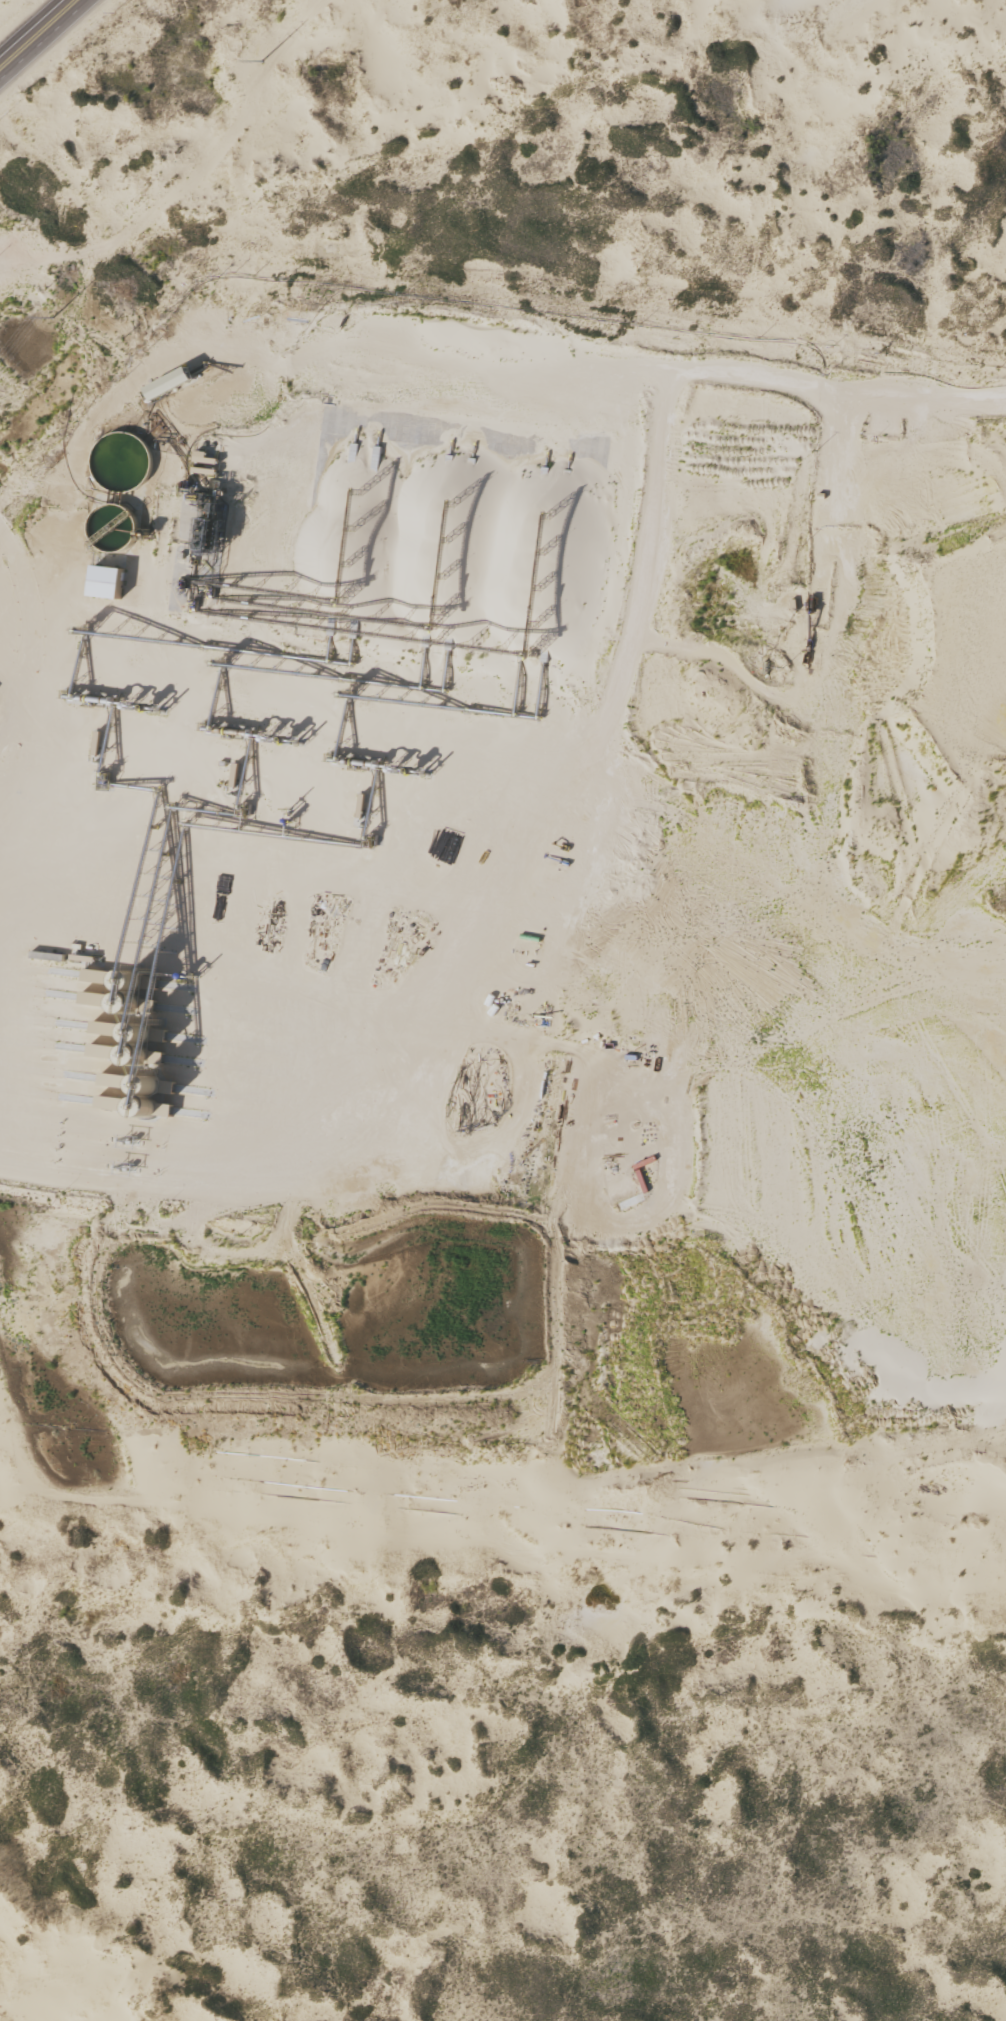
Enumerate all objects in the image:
road: (42, 38)
power tower: (276, 72)
power tower: (67, 330)
building: (172, 377)
building: (201, 455)
building: (121, 459)
building: (206, 469)
building: (114, 526)
building: (109, 579)

